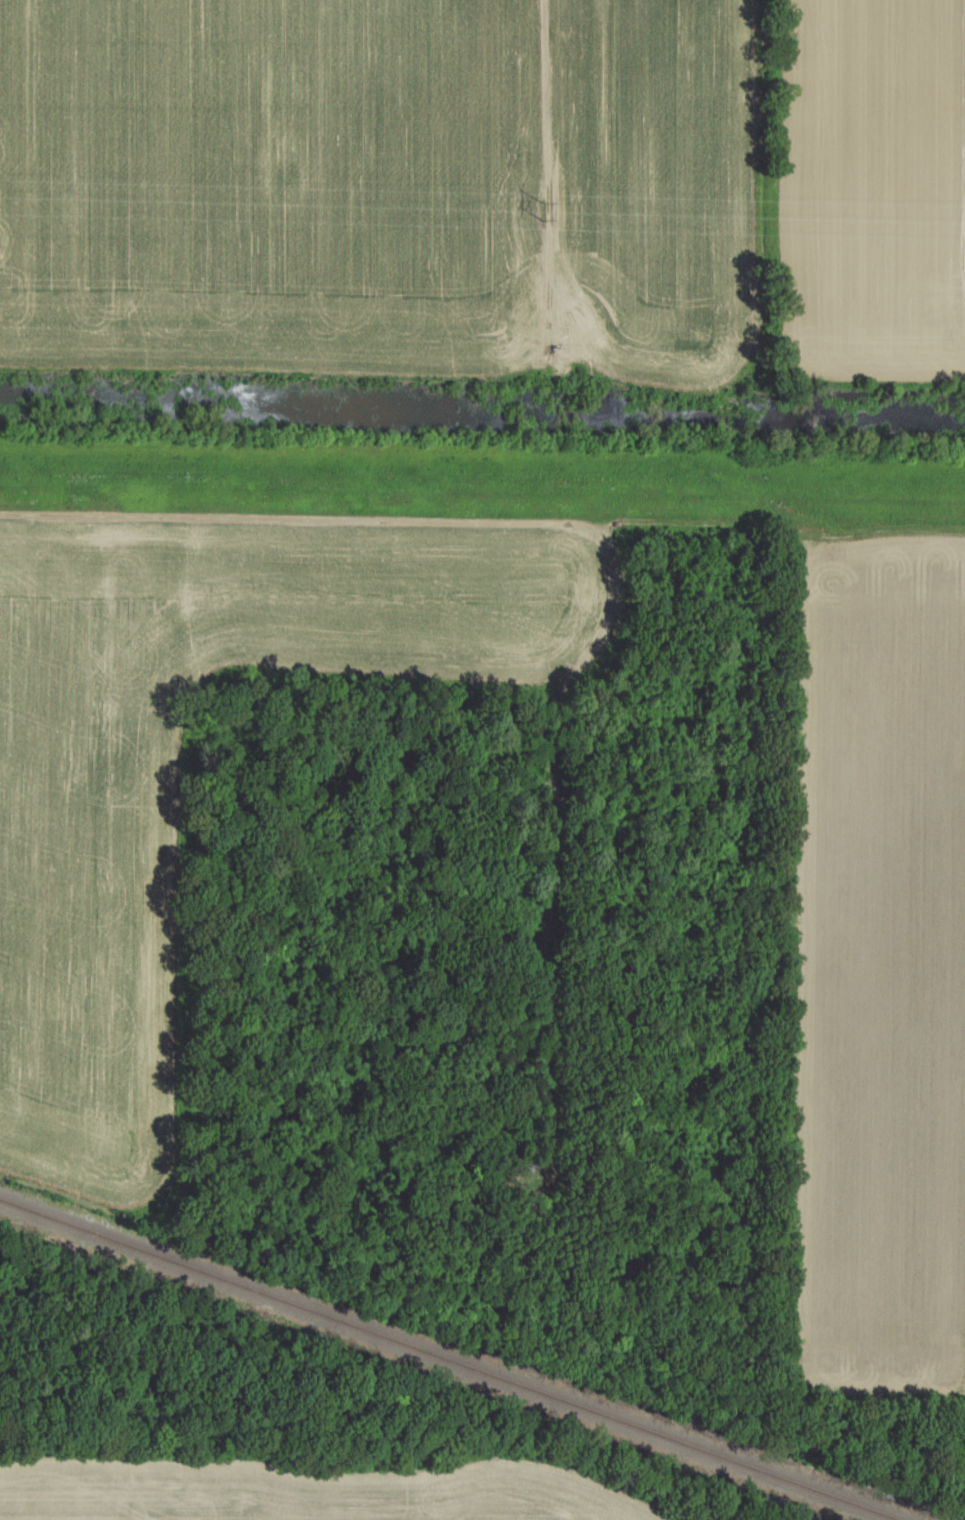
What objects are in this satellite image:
road: (550, 184)
power tower: (547, 215)
road: (445, 458)
road: (408, 518)
road: (780, 524)
railway: (452, 1358)
road: (916, 1400)

